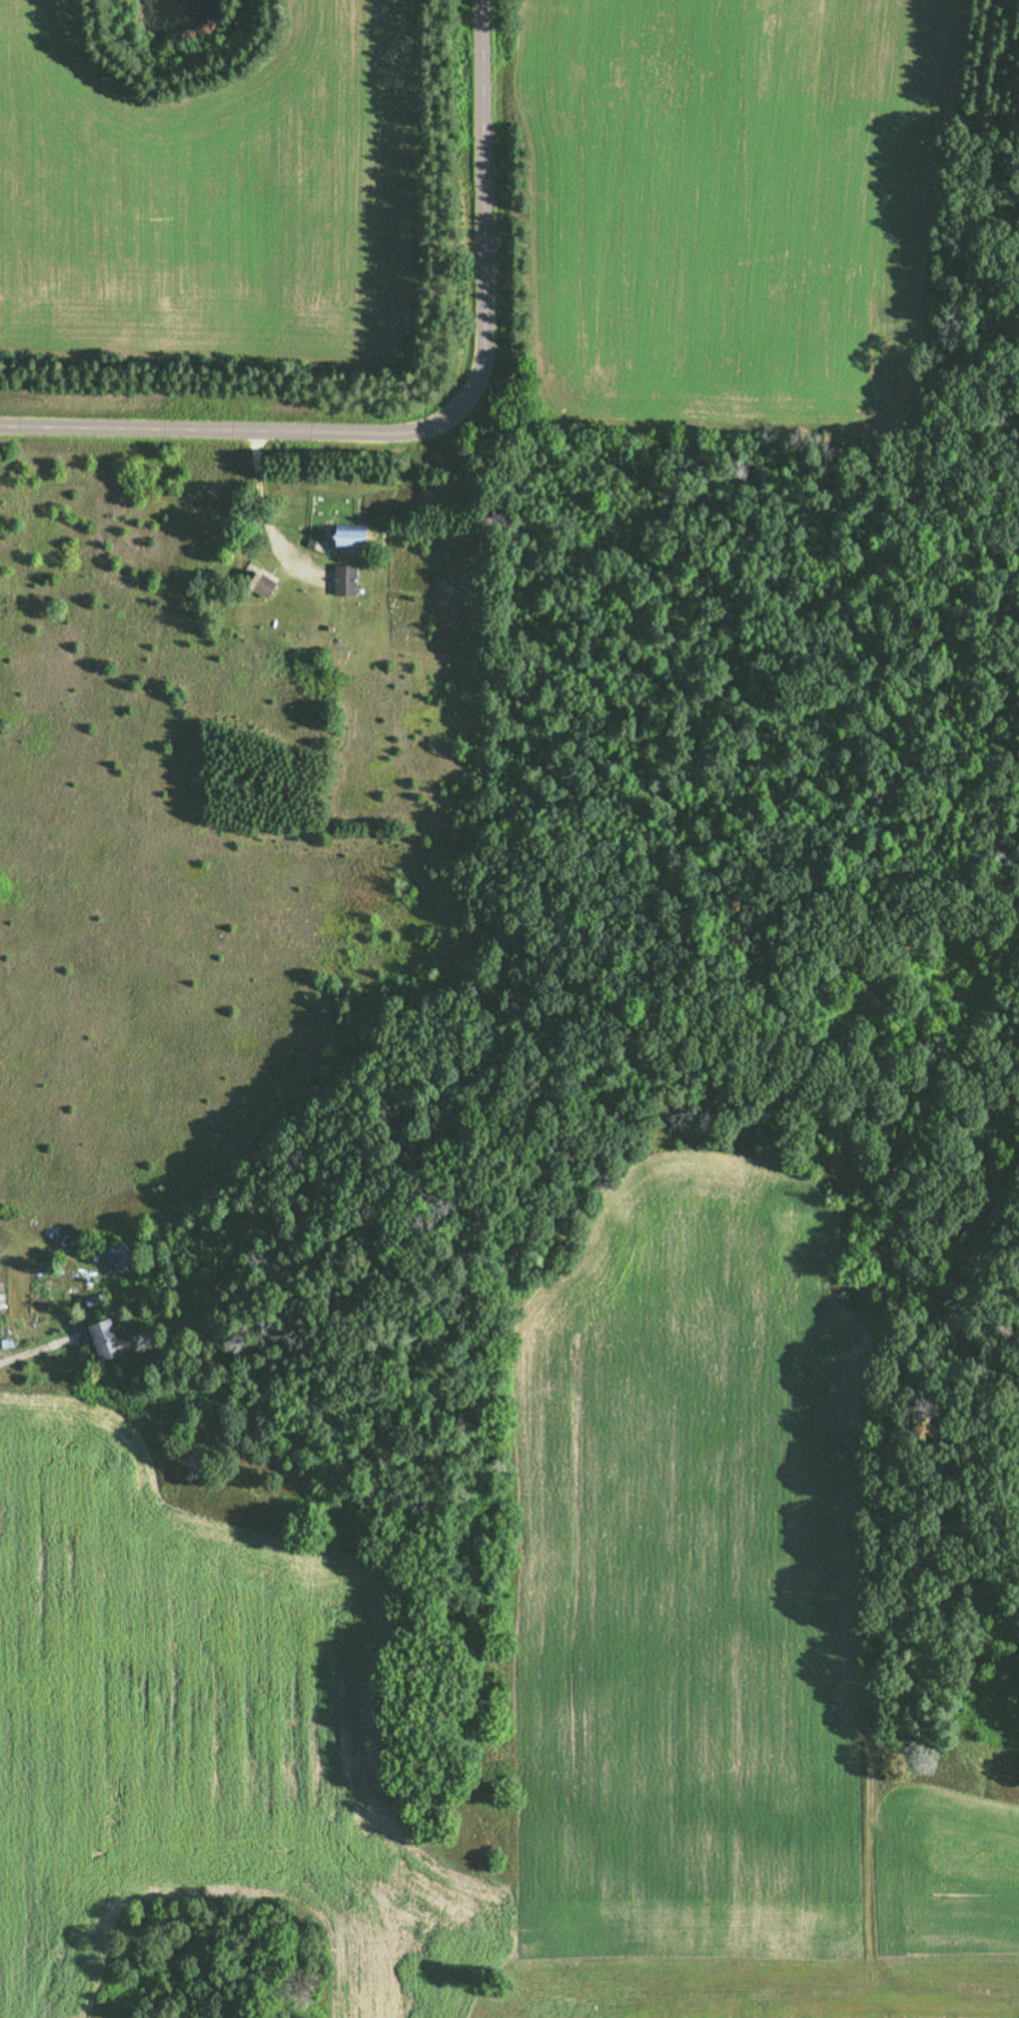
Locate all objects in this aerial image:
road: (437, 420)
building: (346, 535)
building: (344, 578)
building: (252, 582)
building: (123, 1255)
building: (105, 1340)

